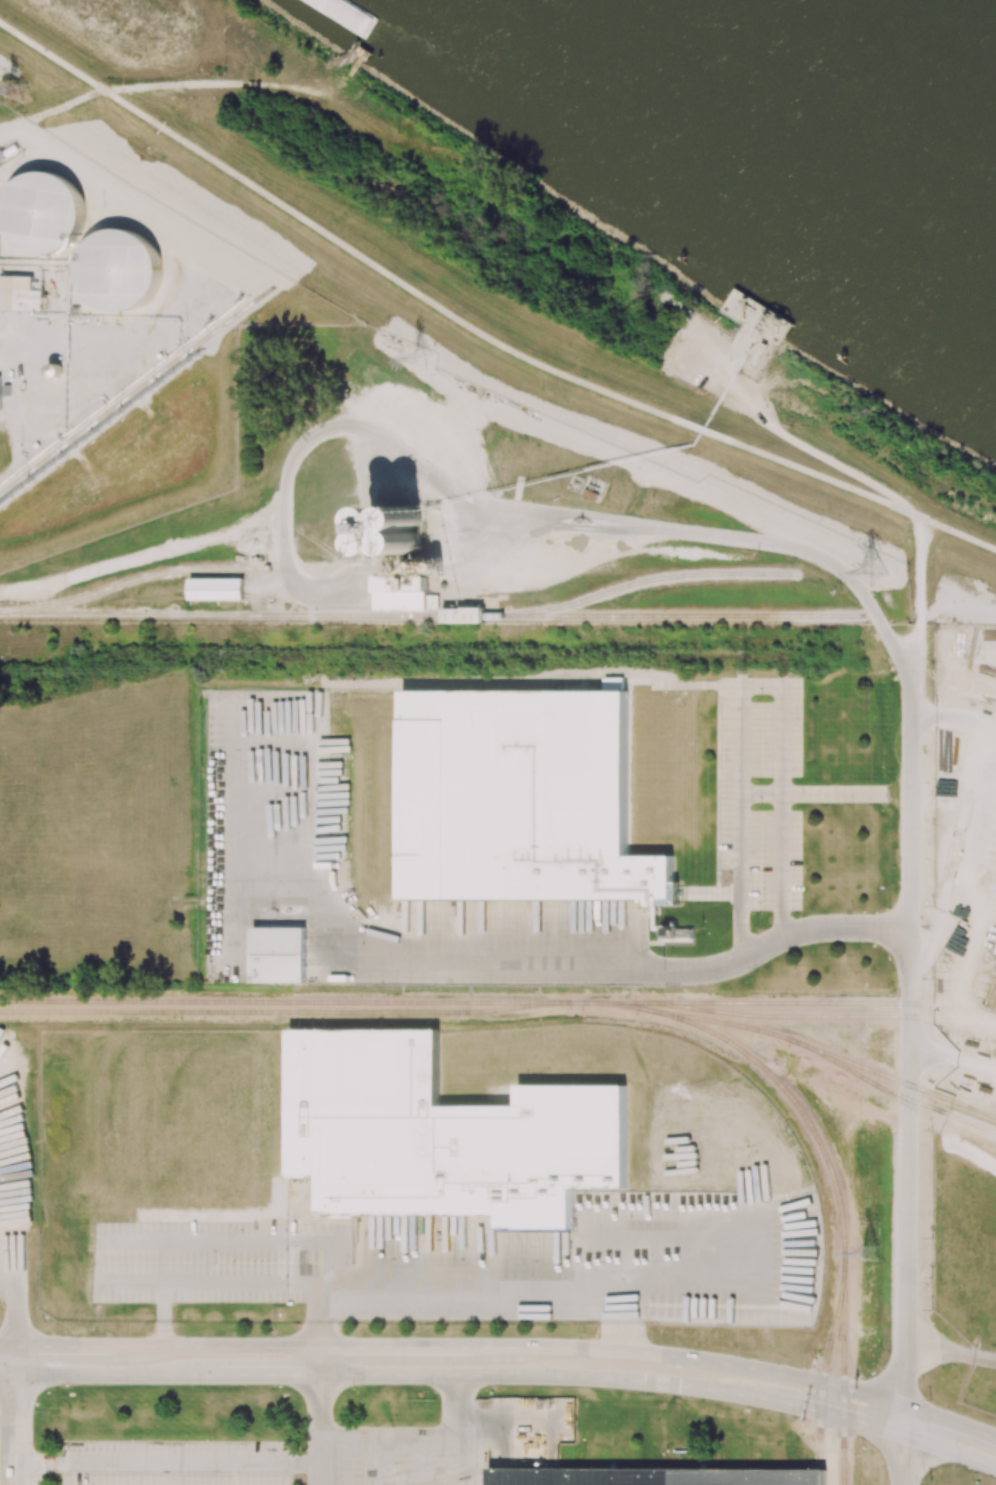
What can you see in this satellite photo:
road: (46, 51)
road: (104, 89)
power tower: (18, 91)
river: (838, 97)
building: (78, 236)
building: (19, 293)
road: (485, 335)
power tower: (424, 360)
building: (0, 397)
road: (441, 485)
road: (911, 512)
road: (964, 534)
power tower: (875, 573)
road: (292, 576)
railway: (131, 581)
railway: (653, 581)
road: (920, 587)
building: (215, 588)
building: (462, 614)
railway: (257, 616)
railway: (688, 616)
road: (781, 690)
road: (954, 716)
parking lot: (759, 790)
road: (812, 793)
building: (523, 800)
road: (957, 836)
road: (718, 892)
road: (743, 924)
building: (278, 953)
road: (521, 962)
railway: (266, 1002)
railway: (609, 1004)
railway: (834, 1004)
railway: (808, 1016)
road: (910, 1030)
road: (953, 1056)
railway: (837, 1059)
railway: (909, 1099)
railway: (938, 1122)
railway: (984, 1128)
building: (442, 1137)
road: (180, 1241)
power tower: (873, 1253)
parking lot: (211, 1259)
road: (243, 1281)
road: (473, 1284)
road: (11, 1312)
road: (162, 1313)
street lamp: (584, 1332)
street lamp: (419, 1334)
road: (455, 1347)
street lamp: (880, 1349)
street lamp: (735, 1350)
road: (950, 1351)
railway: (827, 1362)
road: (370, 1374)
street lamp: (500, 1388)
street lamp: (652, 1395)
road: (823, 1411)
road: (14, 1415)
road: (321, 1415)
street lamp: (792, 1418)
road: (7, 1419)
road: (950, 1422)
road: (828, 1434)
road: (416, 1437)
road: (904, 1445)
road: (950, 1450)
parking lot: (287, 1459)
road: (167, 1460)
road: (371, 1461)
road: (417, 1461)
street lamp: (959, 1467)
building: (652, 1476)

